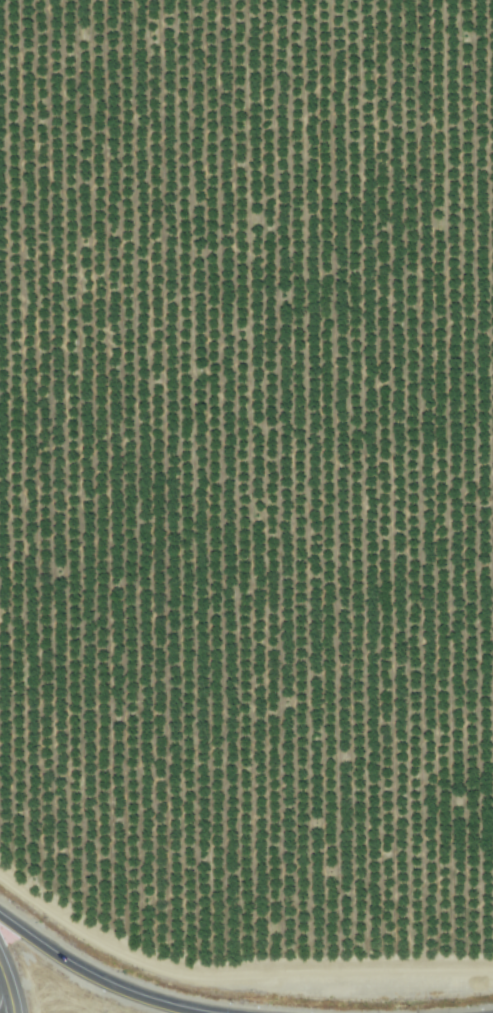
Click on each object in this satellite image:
crop: (249, 499)
road: (99, 977)
road: (4, 992)

